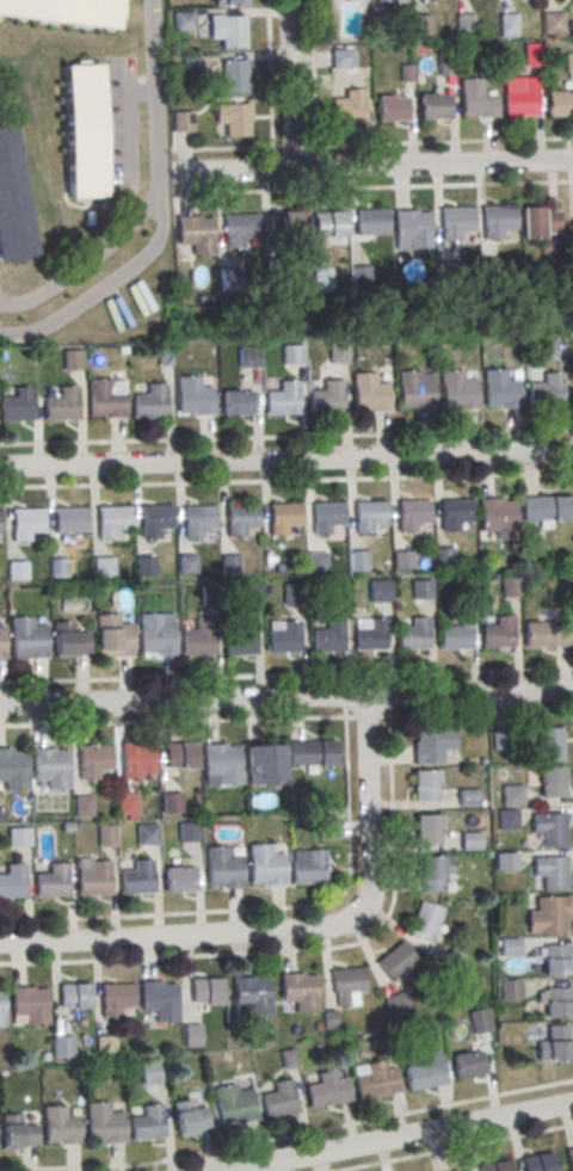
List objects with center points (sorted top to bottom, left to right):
building: (386, 0)
building: (229, 1)
building: (64, 11)
building: (183, 20)
building: (553, 21)
building: (464, 23)
building: (421, 24)
building: (507, 24)
building: (227, 32)
building: (531, 53)
building: (343, 57)
building: (568, 61)
building: (446, 64)
road: (312, 73)
road: (269, 74)
building: (233, 75)
road: (290, 85)
building: (476, 101)
road: (156, 103)
building: (559, 103)
building: (519, 105)
building: (433, 109)
building: (392, 111)
building: (347, 113)
building: (183, 121)
building: (230, 122)
building: (93, 128)
road: (421, 143)
road: (383, 166)
road: (372, 189)
building: (12, 204)
building: (541, 221)
building: (497, 223)
building: (370, 224)
building: (455, 226)
building: (282, 227)
building: (328, 227)
building: (238, 232)
building: (411, 232)
building: (193, 235)
road: (571, 245)
road: (85, 269)
building: (488, 272)
building: (448, 275)
building: (276, 279)
building: (321, 279)
building: (359, 279)
building: (229, 281)
road: (100, 291)
building: (544, 351)
building: (337, 356)
building: (291, 357)
building: (72, 358)
building: (247, 359)
building: (456, 392)
building: (499, 392)
building: (413, 393)
building: (544, 394)
building: (368, 396)
building: (192, 399)
building: (103, 401)
building: (282, 402)
building: (325, 402)
building: (148, 405)
building: (235, 406)
building: (17, 407)
building: (60, 408)
road: (286, 438)
road: (286, 460)
road: (286, 481)
building: (544, 510)
building: (455, 511)
building: (411, 512)
building: (327, 514)
building: (368, 514)
building: (497, 516)
building: (240, 517)
building: (283, 517)
building: (154, 518)
building: (198, 519)
building: (0, 520)
building: (69, 520)
building: (112, 520)
building: (25, 523)
building: (443, 561)
building: (401, 562)
building: (358, 563)
building: (316, 565)
building: (186, 567)
building: (229, 567)
building: (144, 568)
building: (58, 569)
building: (101, 569)
building: (17, 573)
building: (507, 590)
building: (377, 592)
building: (420, 592)
building: (337, 593)
building: (294, 597)
building: (208, 598)
building: (542, 633)
building: (156, 634)
building: (113, 635)
building: (497, 636)
building: (27, 637)
building: (413, 637)
building: (370, 639)
building: (455, 639)
building: (327, 640)
building: (199, 641)
building: (239, 641)
building: (283, 641)
building: (1, 642)
building: (68, 647)
road: (286, 677)
road: (286, 697)
road: (286, 720)
building: (432, 744)
building: (548, 746)
building: (310, 752)
building: (180, 754)
building: (94, 759)
building: (137, 759)
building: (265, 762)
building: (222, 763)
building: (50, 766)
building: (12, 769)
building: (549, 785)
building: (424, 789)
building: (511, 796)
building: (467, 800)
building: (127, 802)
building: (82, 803)
building: (170, 805)
building: (505, 820)
building: (331, 828)
building: (146, 833)
building: (187, 833)
building: (552, 833)
building: (105, 834)
building: (425, 834)
building: (18, 836)
building: (468, 844)
building: (265, 864)
building: (307, 865)
building: (222, 867)
building: (553, 876)
building: (137, 877)
building: (429, 877)
building: (95, 879)
building: (178, 879)
building: (12, 880)
building: (51, 880)
road: (260, 910)
building: (550, 917)
building: (425, 919)
road: (290, 929)
building: (507, 949)
road: (298, 950)
building: (395, 960)
building: (553, 962)
building: (347, 985)
building: (205, 990)
building: (300, 990)
building: (510, 992)
building: (252, 993)
building: (74, 994)
building: (115, 997)
building: (159, 998)
building: (398, 1003)
building: (30, 1004)
building: (555, 1006)
building: (1, 1009)
building: (479, 1019)
building: (190, 1037)
building: (61, 1047)
building: (103, 1047)
building: (555, 1049)
building: (288, 1058)
building: (467, 1064)
building: (149, 1073)
building: (423, 1073)
building: (375, 1079)
building: (326, 1089)
building: (278, 1098)
building: (234, 1103)
building: (190, 1117)
building: (104, 1122)
building: (147, 1122)
building: (60, 1124)
building: (17, 1130)
road: (292, 1136)
road: (399, 1136)
road: (456, 1148)
building: (571, 1158)
building: (537, 1161)
building: (495, 1165)
building: (451, 1170)
building: (466, 1170)

